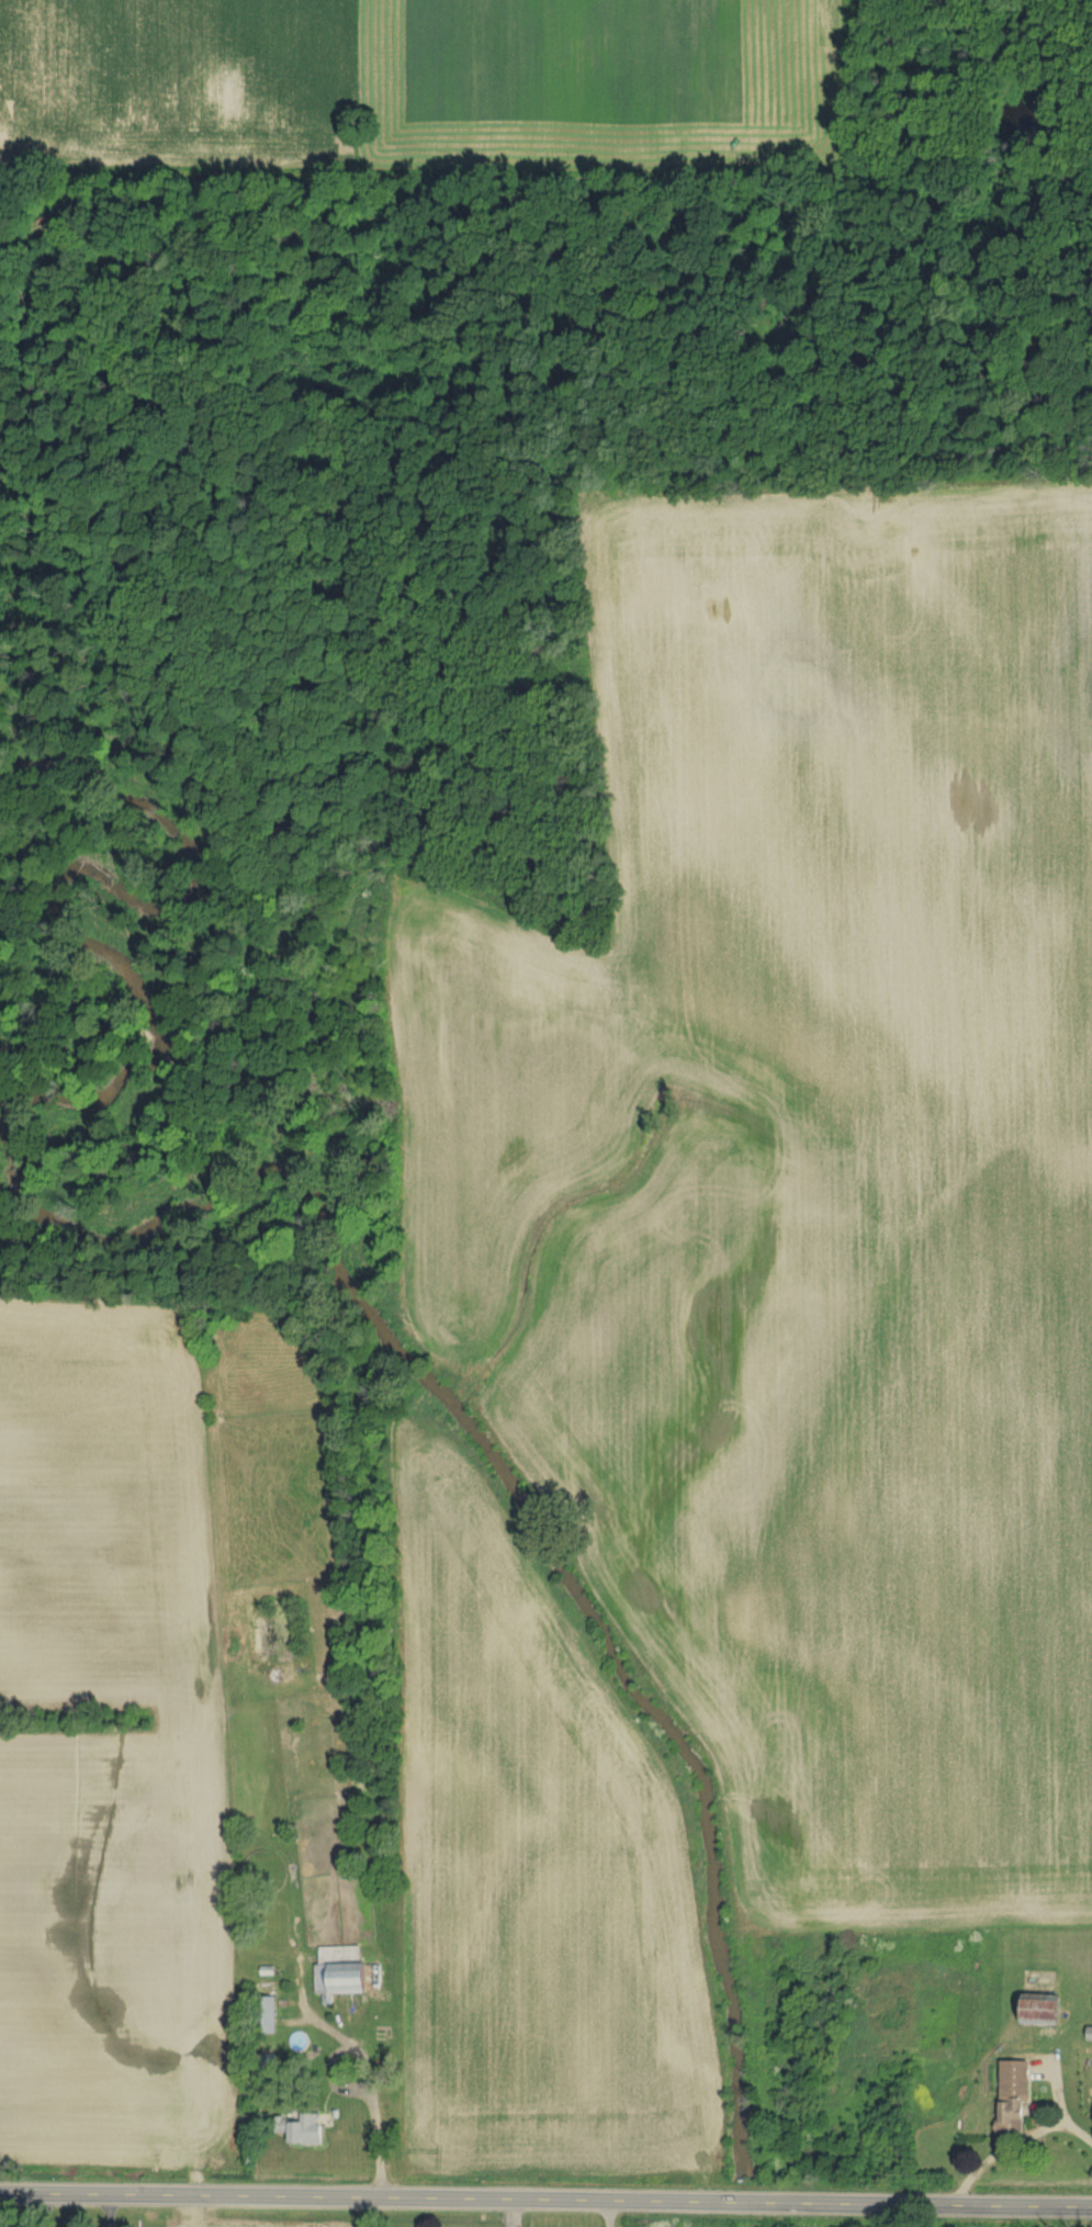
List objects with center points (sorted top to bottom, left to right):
building: (348, 1976)
building: (1046, 2013)
building: (270, 2018)
road: (373, 2093)
building: (1016, 2100)
building: (309, 2133)
road: (1012, 2145)
road: (545, 2203)

